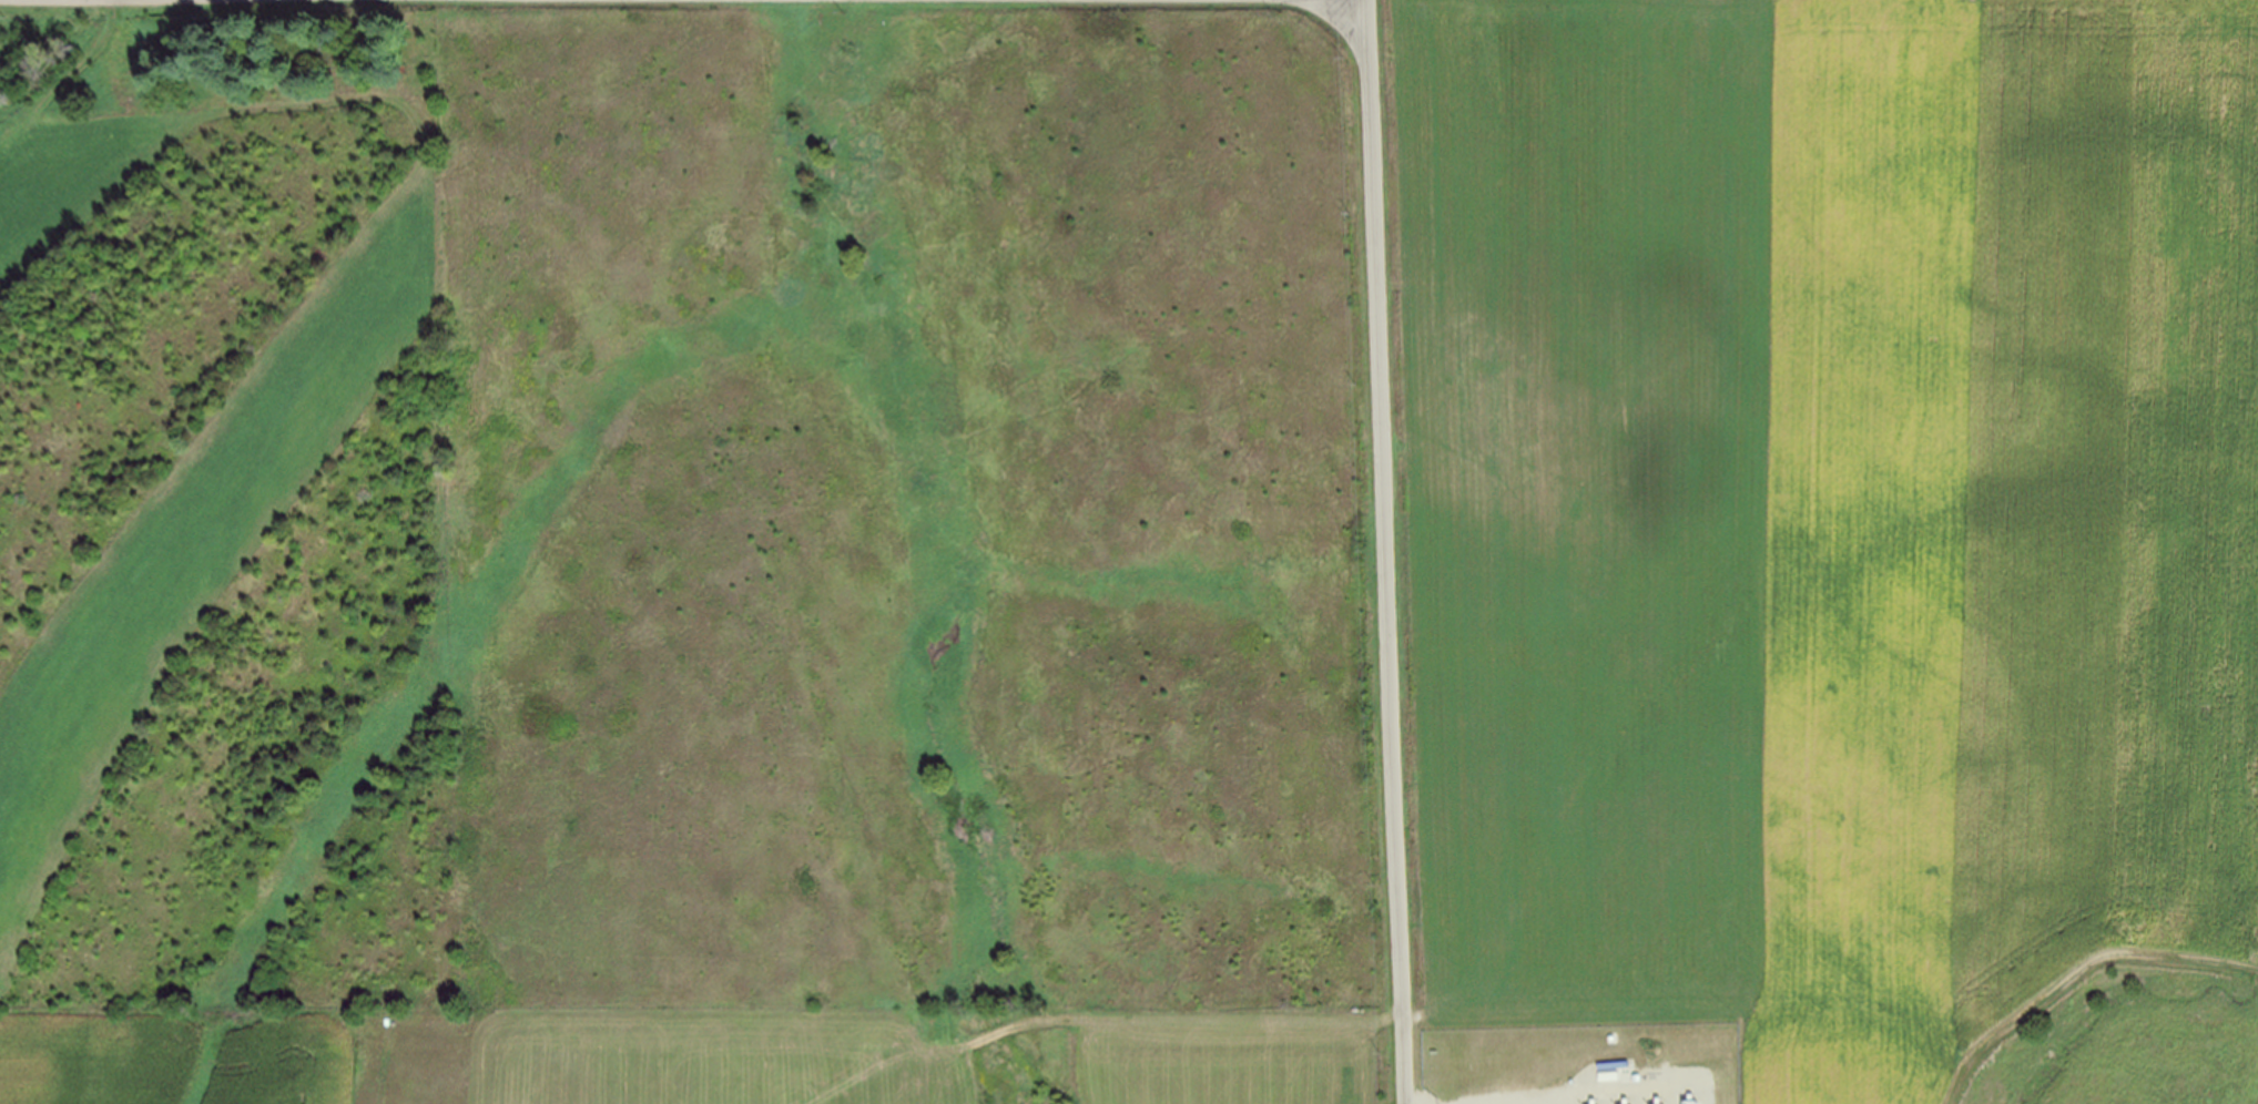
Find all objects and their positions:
road: (1389, 551)
road: (2076, 970)
road: (1157, 1020)
building: (1691, 1102)

